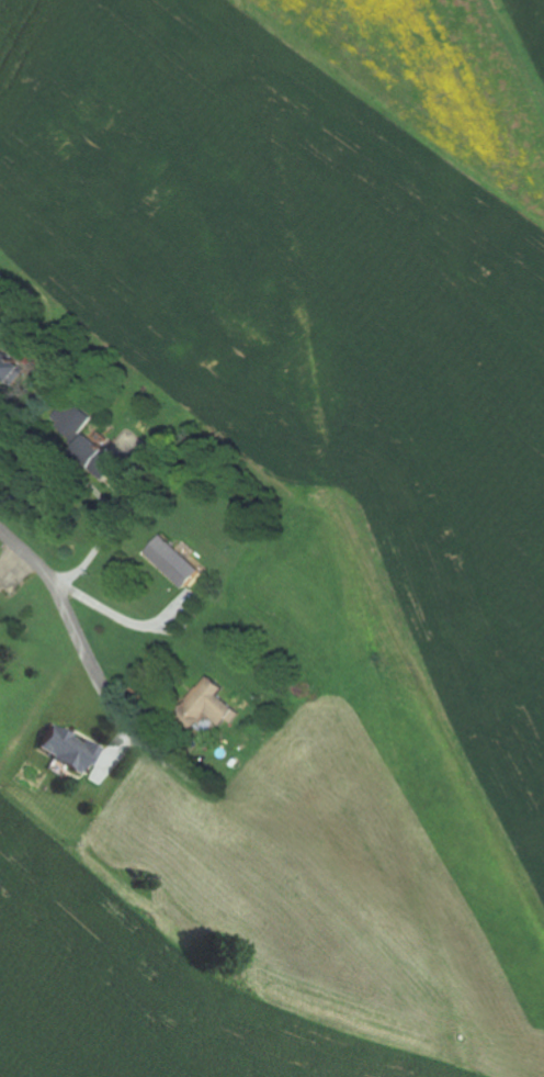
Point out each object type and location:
building: (1, 325)
building: (13, 367)
building: (105, 457)
building: (181, 563)
building: (2, 585)
road: (72, 624)
building: (220, 704)
building: (69, 750)

